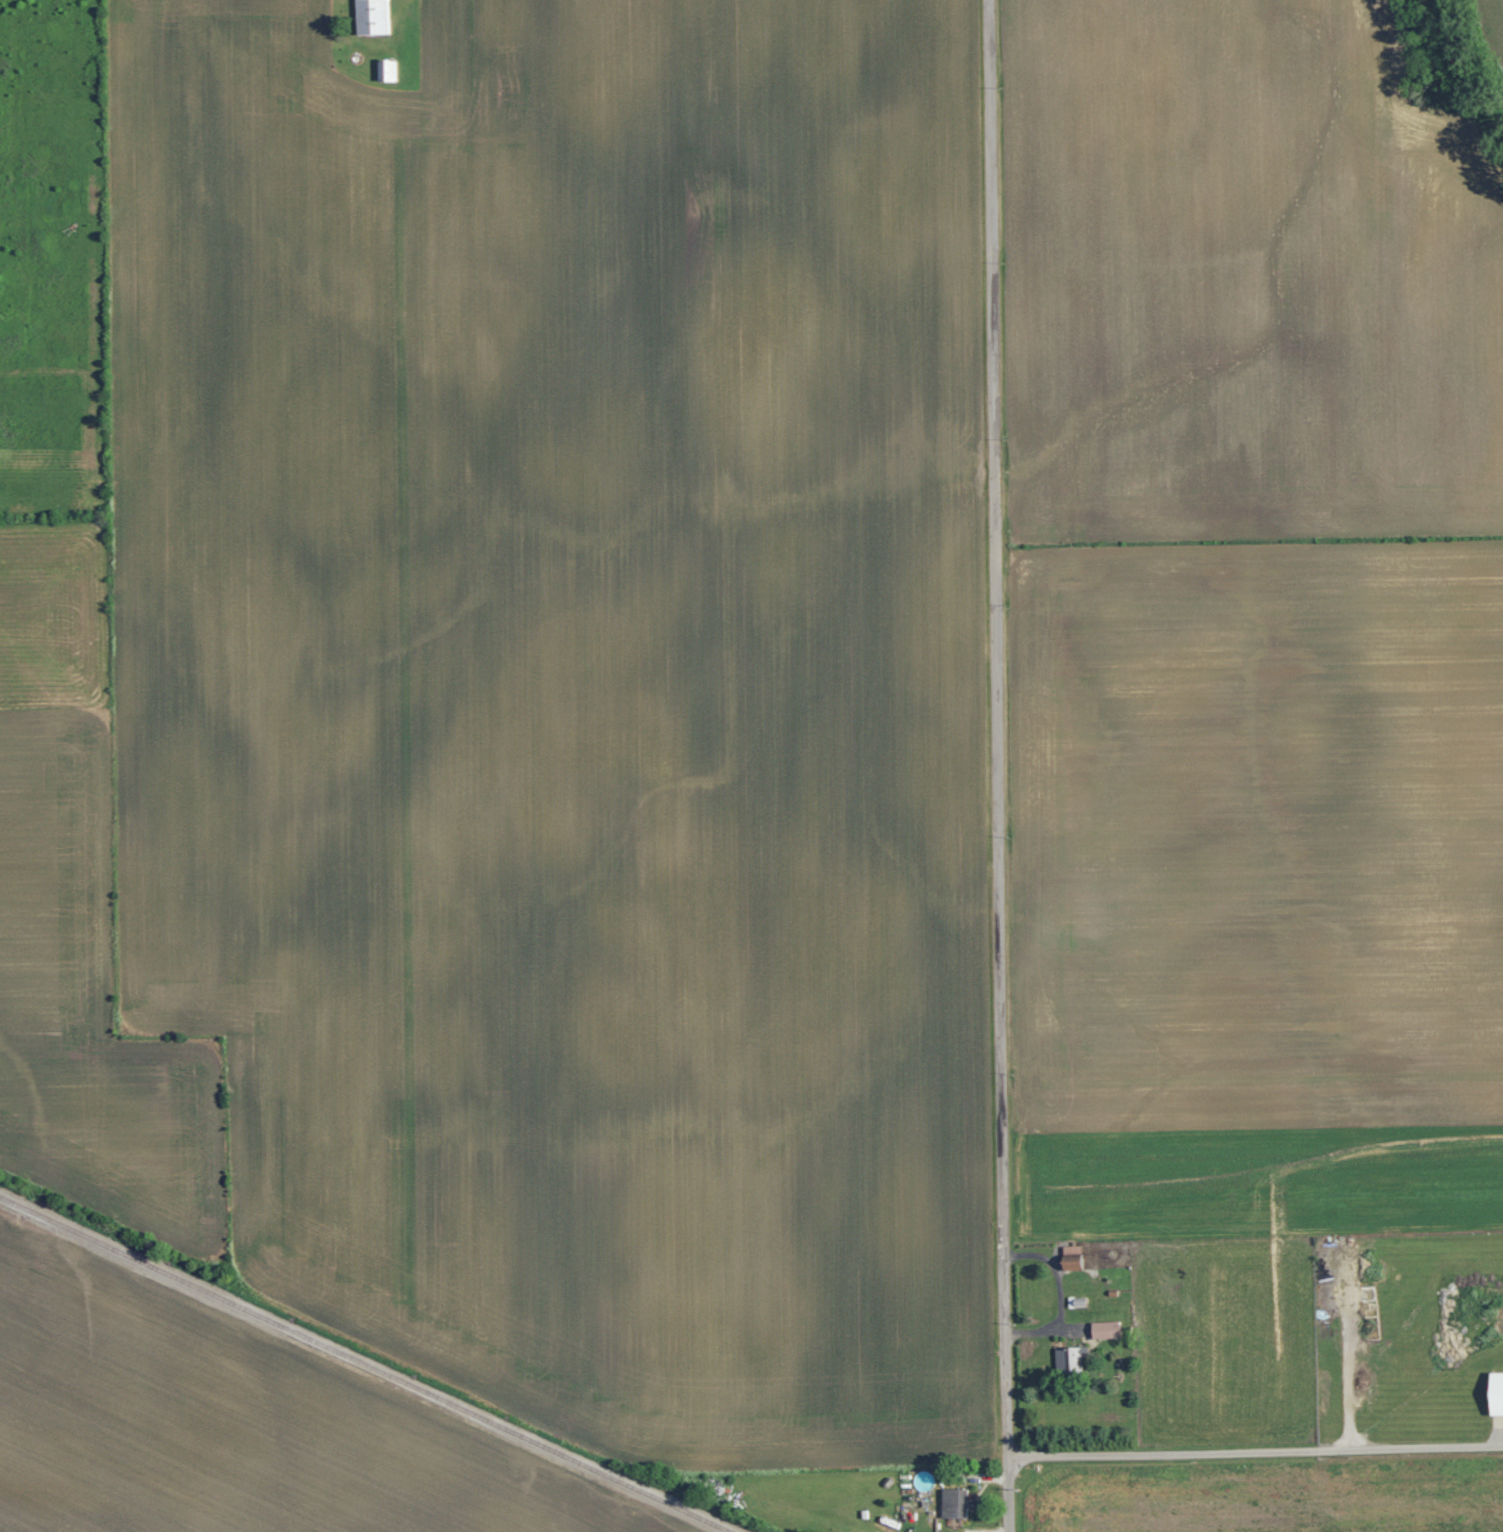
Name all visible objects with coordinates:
road: (997, 766)
building: (1069, 1258)
building: (1102, 1329)
building: (1066, 1359)
railway: (365, 1364)
road: (1255, 1429)
building: (950, 1502)

